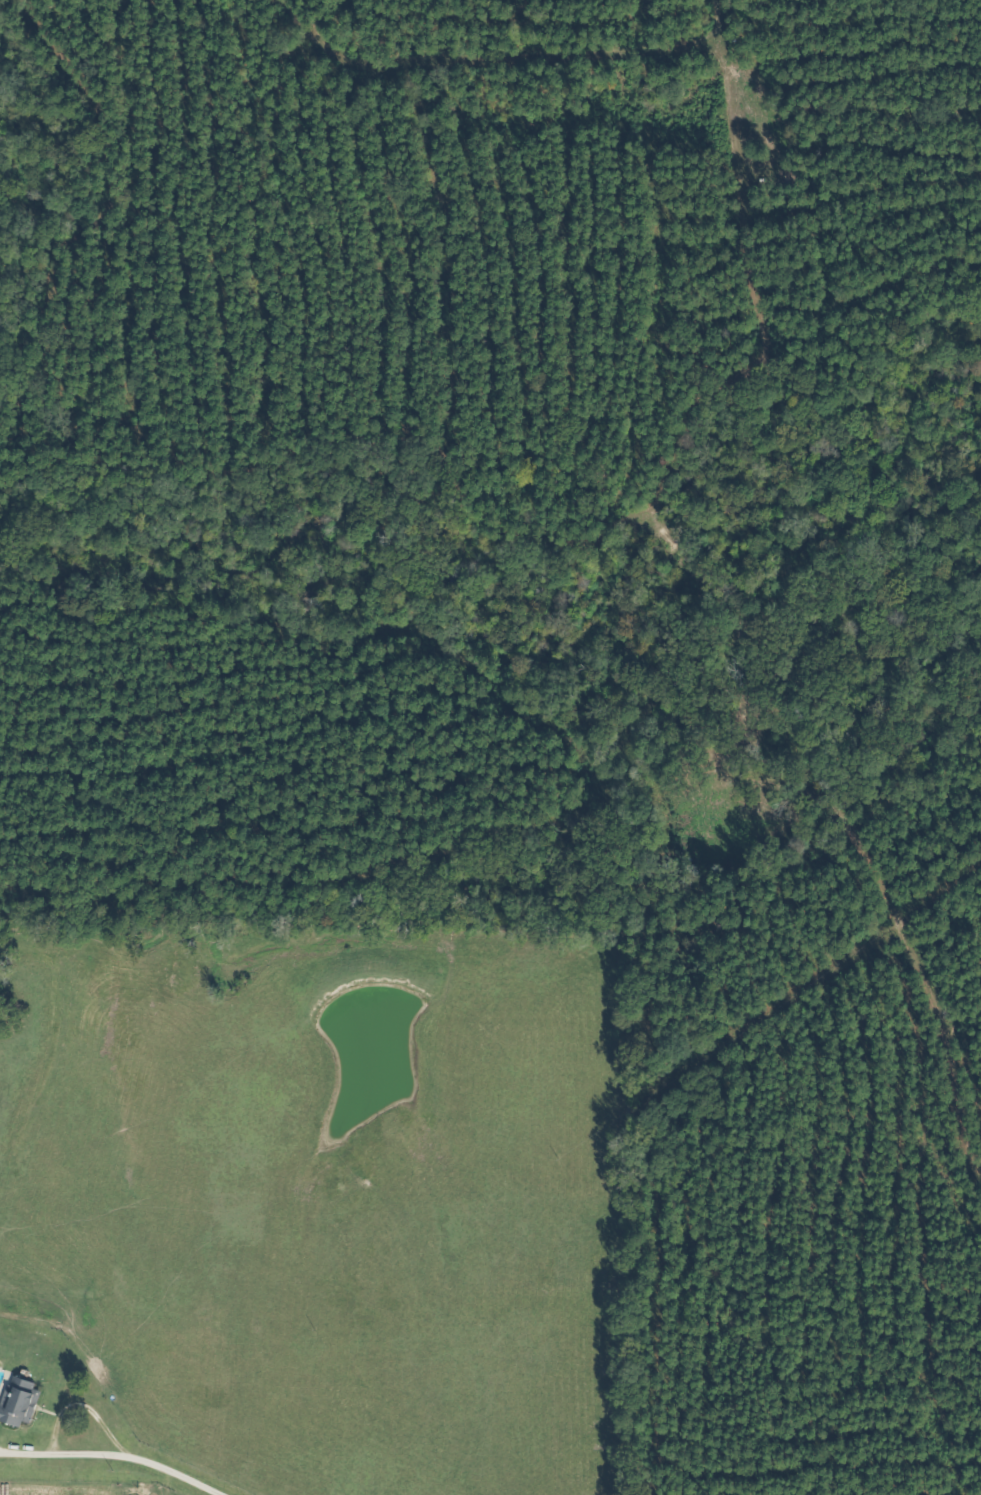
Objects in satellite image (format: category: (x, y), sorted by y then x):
building: (21, 1402)
road: (117, 1452)

